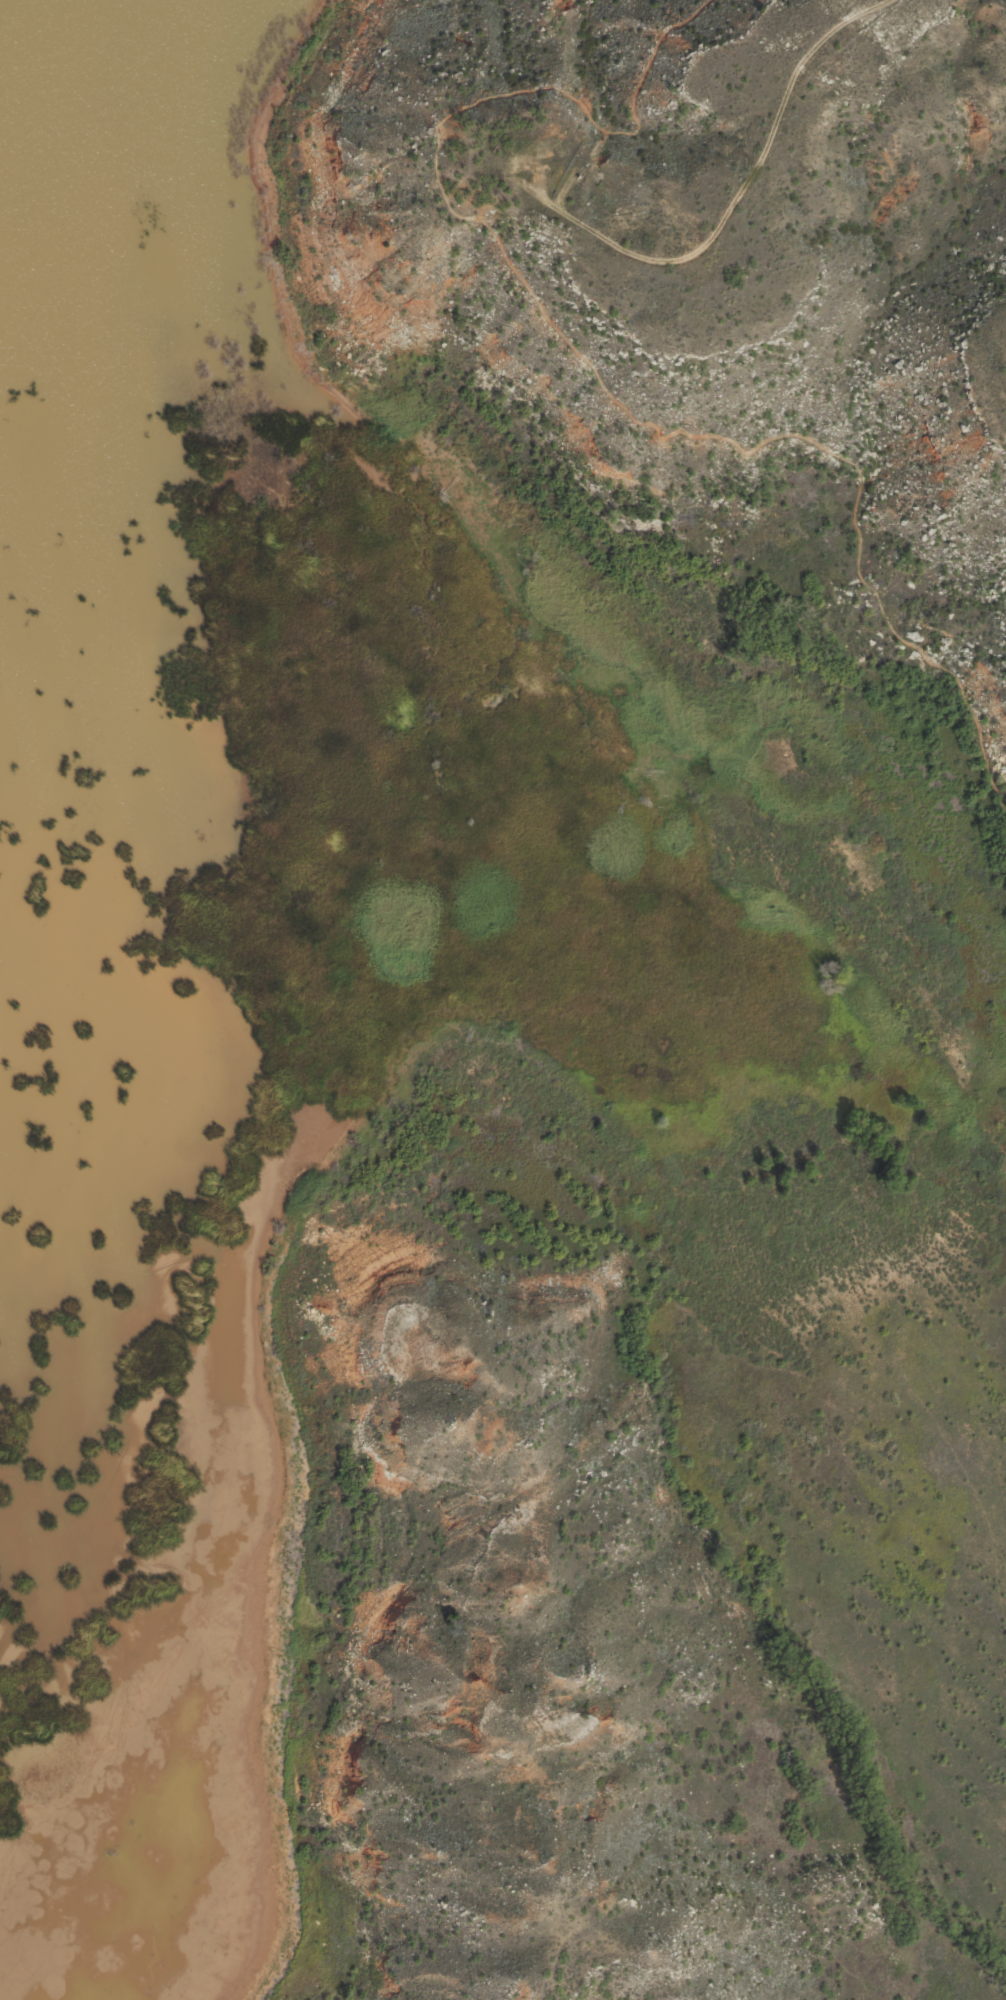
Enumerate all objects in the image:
road: (775, 180)

